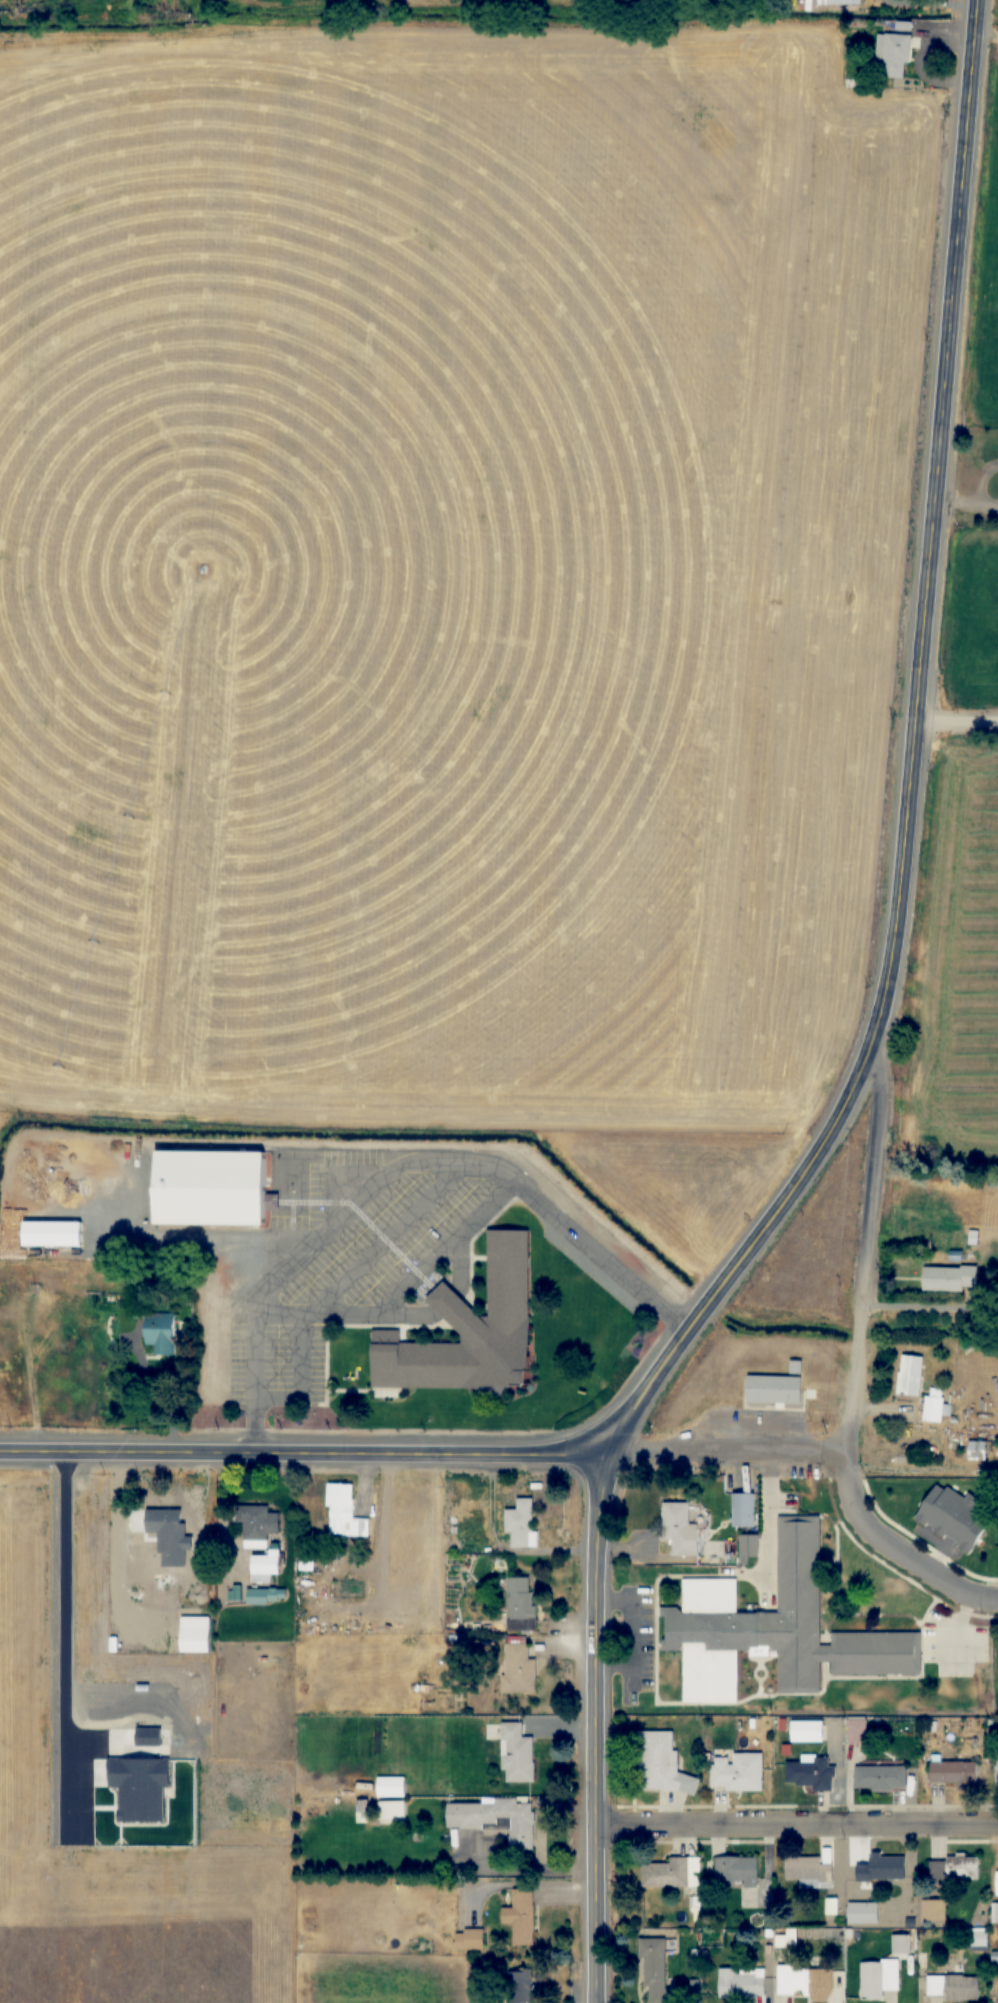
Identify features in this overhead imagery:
building: (818, 3)
road: (911, 6)
building: (893, 55)
road: (901, 64)
road: (969, 477)
road: (918, 509)
road: (958, 509)
crop: (447, 589)
road: (949, 725)
building: (193, 1191)
building: (252, 1202)
road: (532, 1217)
road: (275, 1219)
road: (388, 1221)
road: (328, 1222)
road: (349, 1222)
road: (125, 1229)
building: (35, 1236)
road: (851, 1236)
road: (255, 1240)
parking lot: (333, 1259)
building: (54, 1276)
road: (400, 1279)
building: (925, 1280)
road: (266, 1319)
building: (454, 1332)
building: (160, 1334)
building: (910, 1375)
road: (285, 1382)
building: (774, 1389)
building: (934, 1408)
road: (297, 1447)
road: (713, 1450)
building: (977, 1450)
road: (586, 1469)
building: (744, 1509)
building: (727, 1512)
building: (345, 1513)
building: (521, 1523)
building: (937, 1524)
building: (679, 1525)
building: (160, 1537)
building: (261, 1540)
road: (886, 1558)
building: (266, 1597)
building: (520, 1604)
building: (772, 1629)
building: (195, 1635)
parking lot: (631, 1636)
road: (619, 1641)
building: (96, 1648)
building: (518, 1669)
building: (807, 1731)
building: (517, 1754)
building: (661, 1765)
building: (737, 1772)
building: (935, 1773)
building: (809, 1774)
building: (881, 1778)
building: (992, 1778)
building: (391, 1786)
crop: (116, 1805)
building: (392, 1812)
building: (497, 1819)
road: (787, 1821)
building: (955, 1869)
building: (883, 1870)
building: (737, 1872)
building: (809, 1872)
building: (673, 1873)
building: (997, 1883)
building: (933, 1910)
building: (863, 1913)
building: (994, 1913)
building: (523, 1917)
building: (979, 1938)
building: (470, 1939)
building: (902, 1944)
building: (655, 1968)
building: (879, 1978)
building: (806, 1982)
building: (745, 1984)
building: (953, 1986)
building: (520, 1987)

